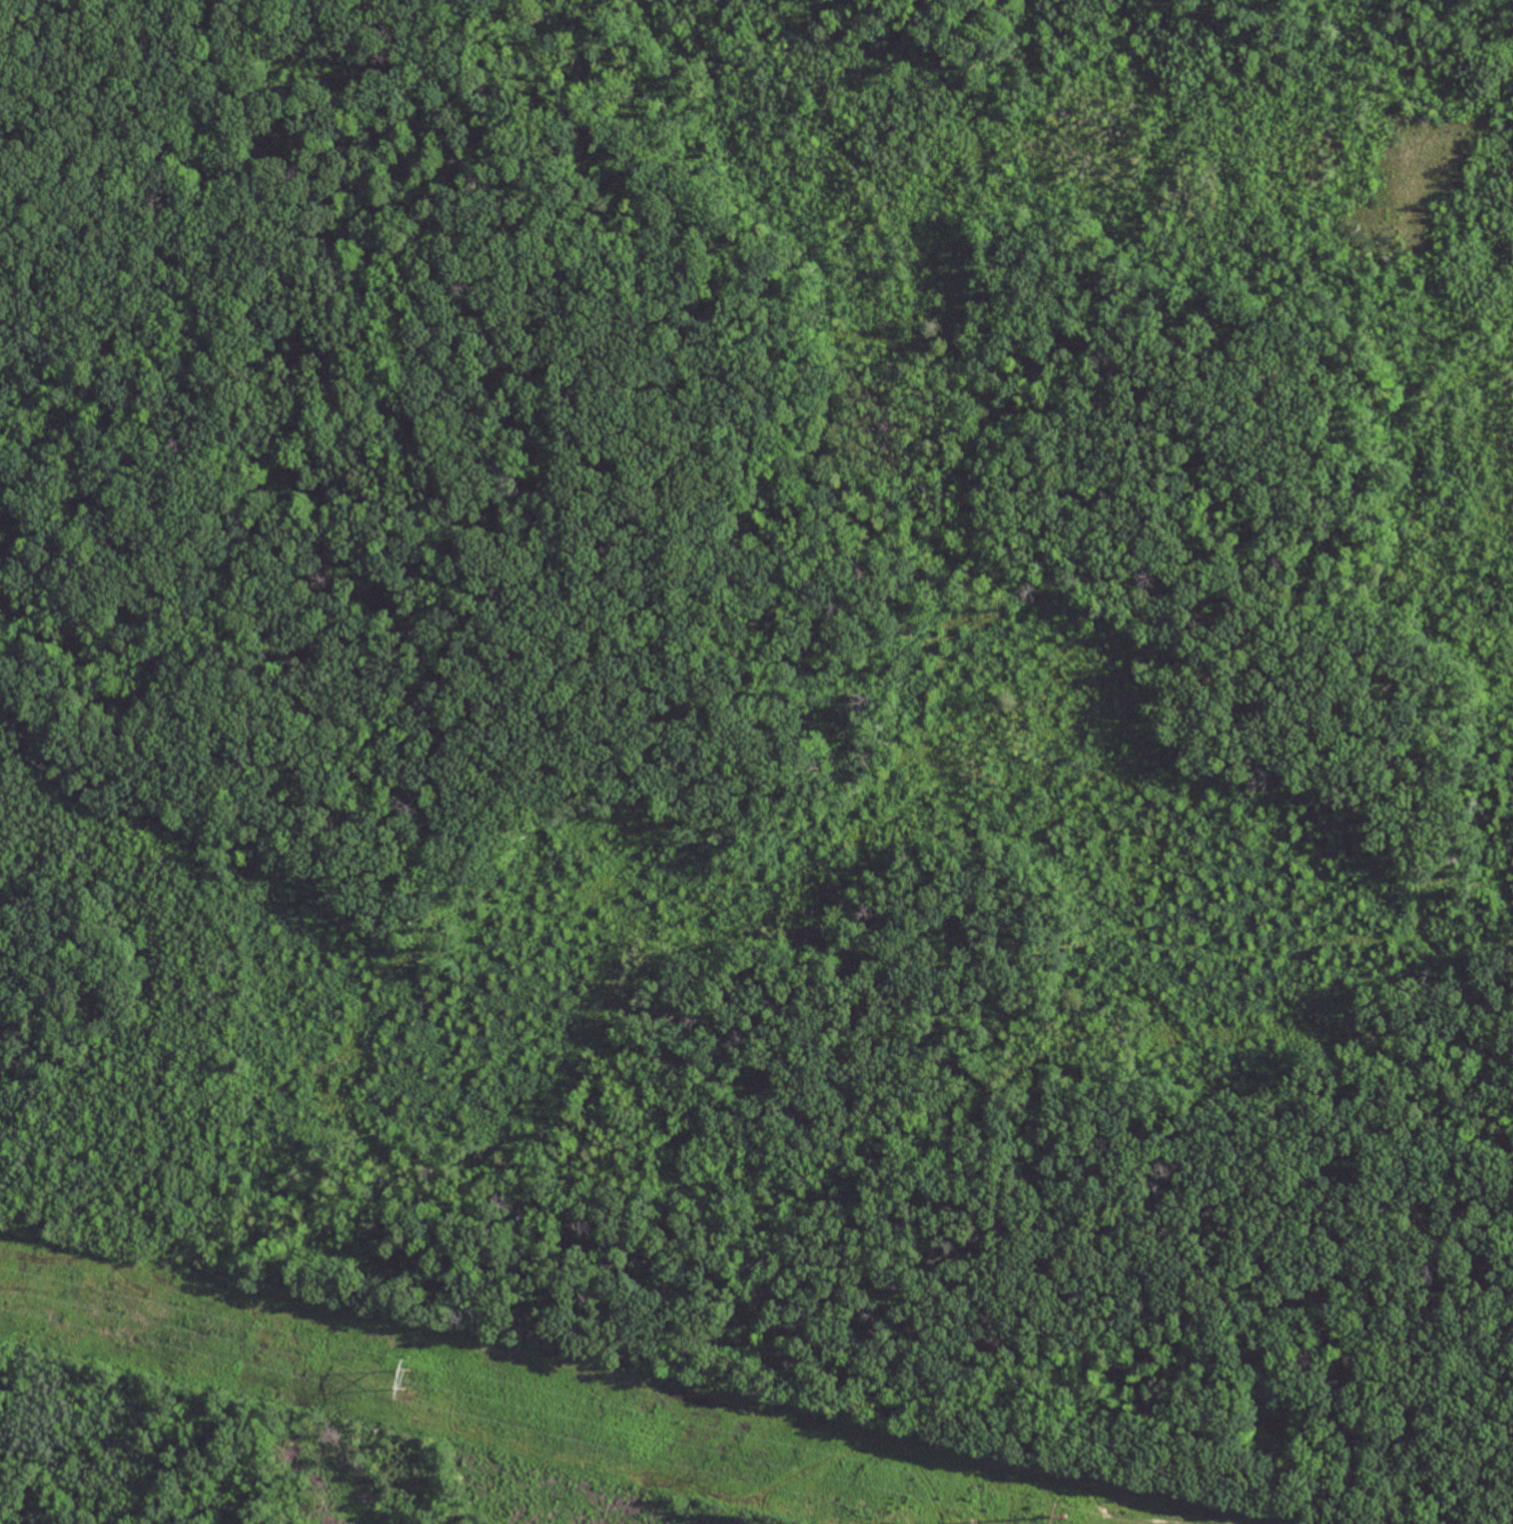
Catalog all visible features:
power tower: (404, 1380)

